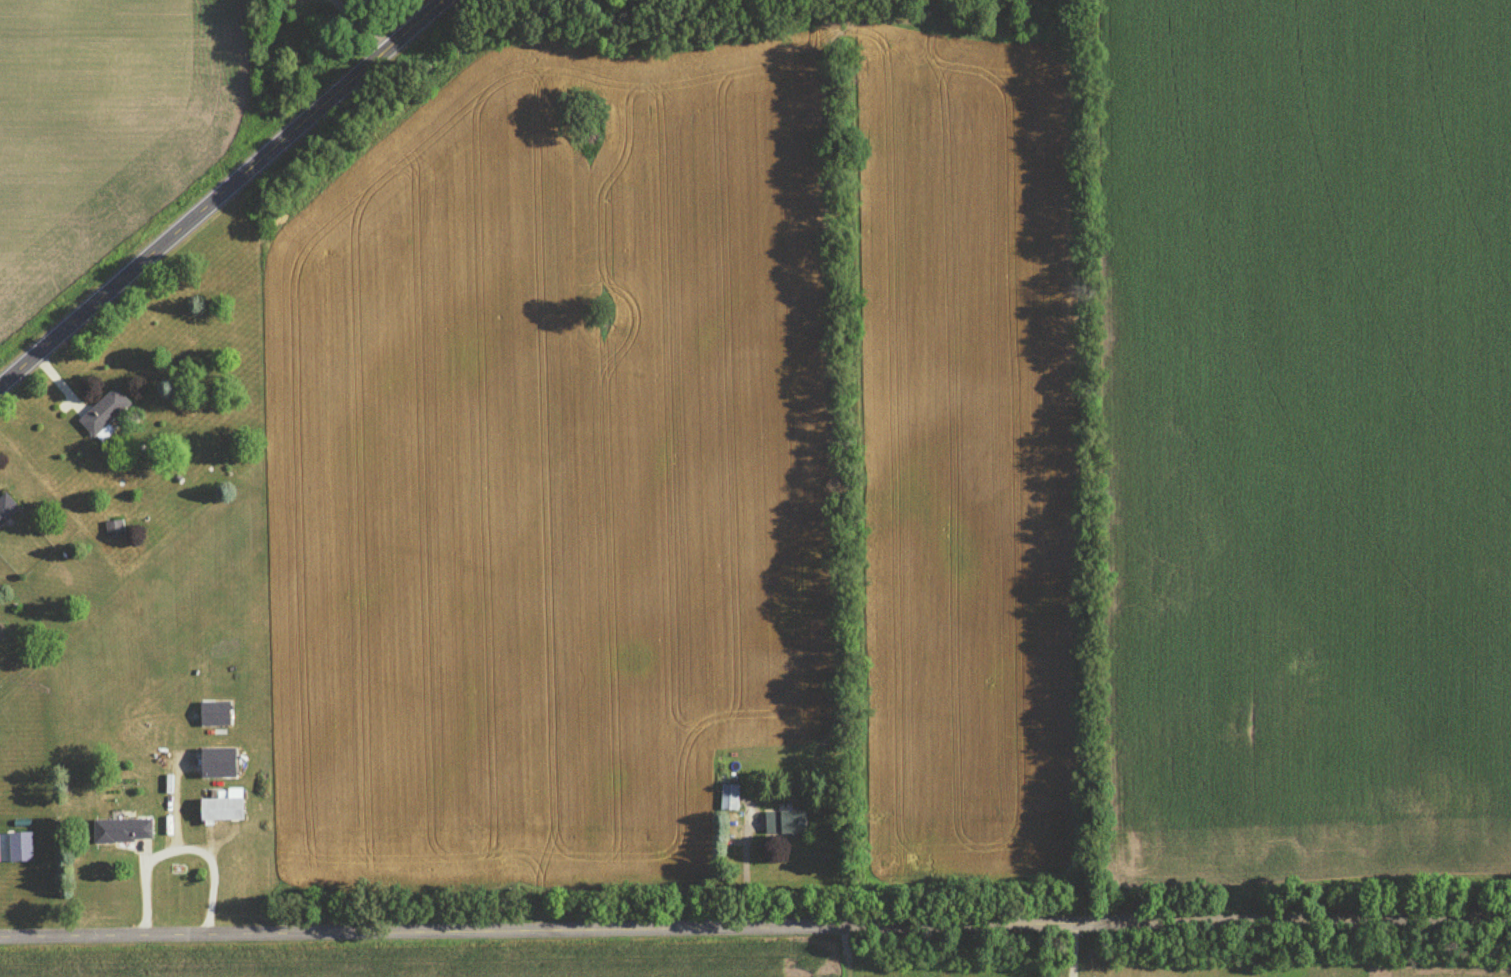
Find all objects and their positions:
road: (220, 190)
building: (103, 415)
building: (6, 511)
building: (114, 532)
building: (215, 716)
building: (217, 765)
building: (729, 800)
building: (222, 810)
building: (784, 826)
building: (122, 834)
road: (755, 923)

